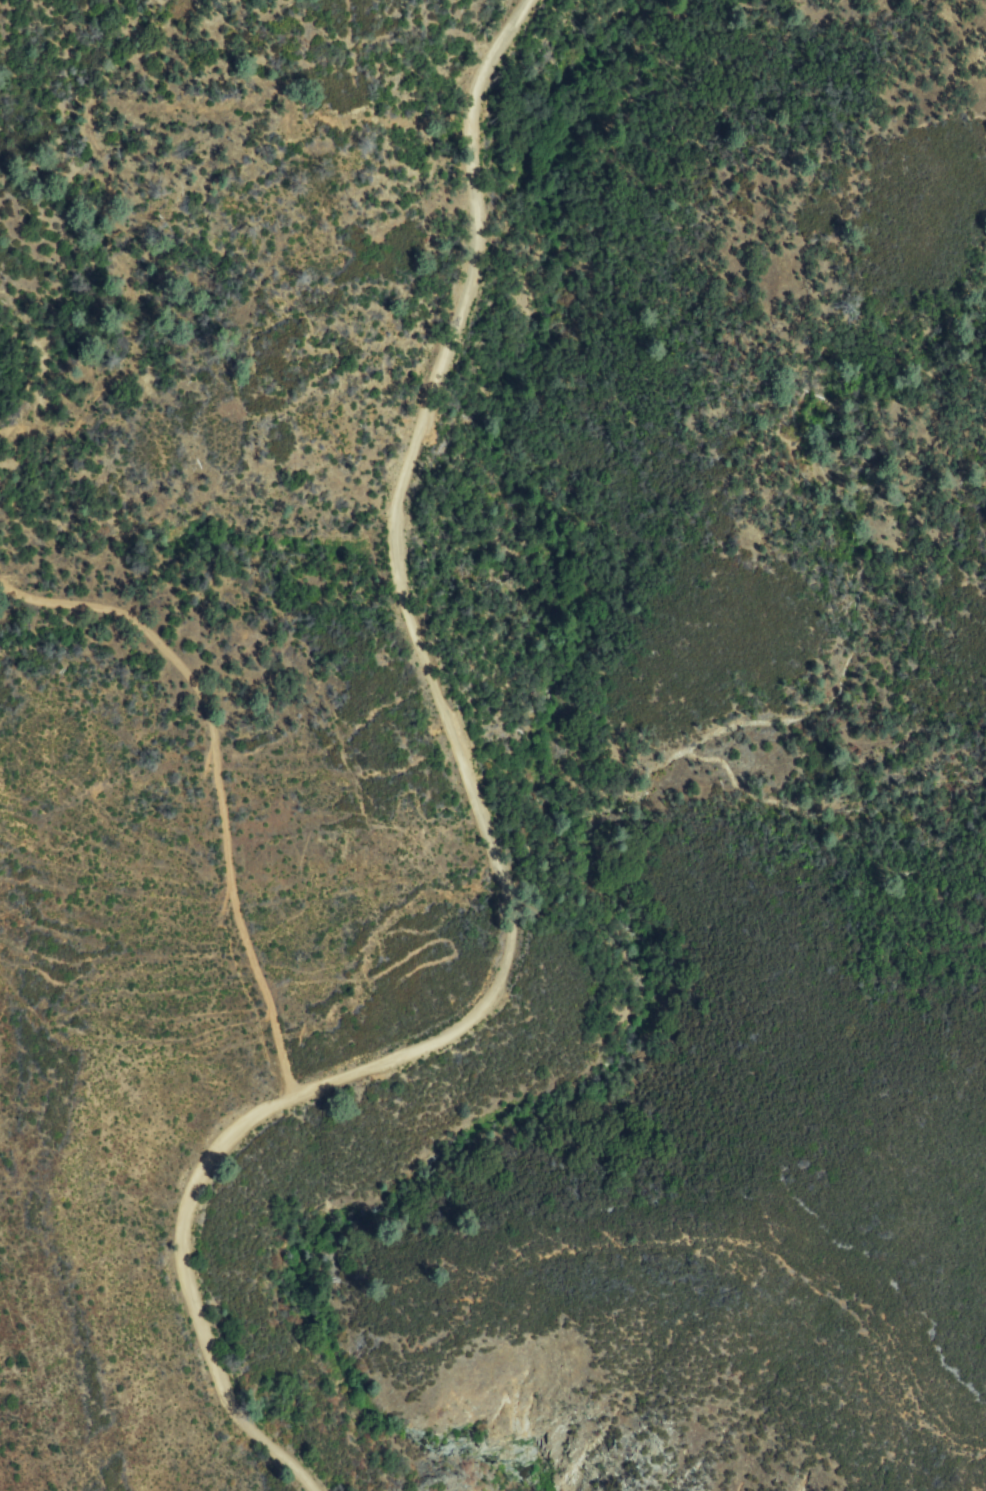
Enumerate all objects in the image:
road: (219, 777)
road: (484, 836)

